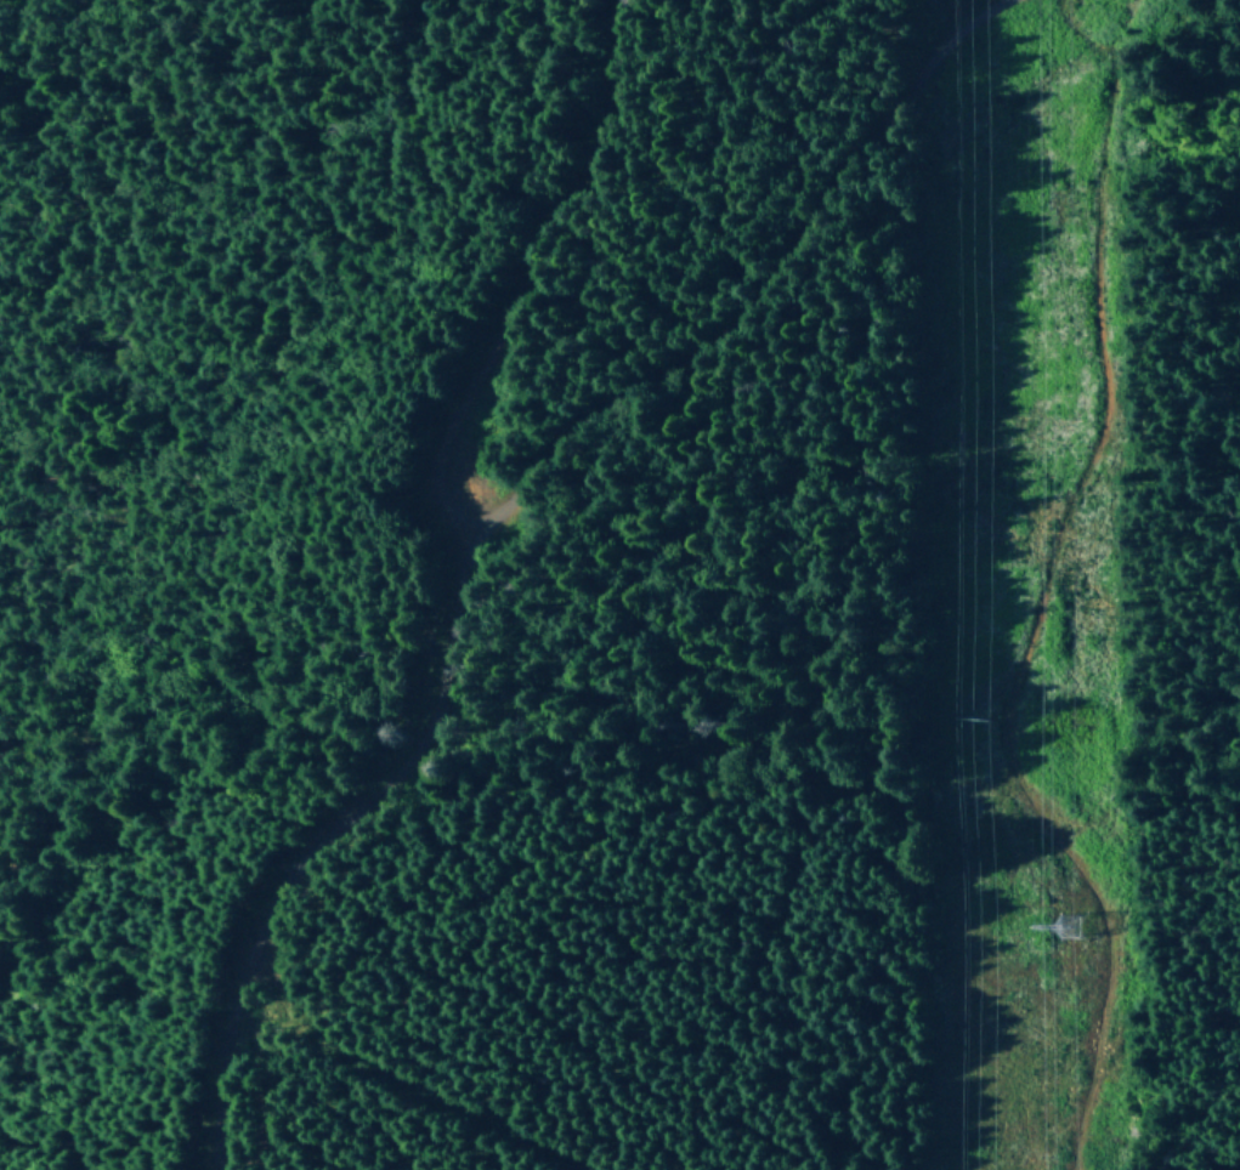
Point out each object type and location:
power tower: (983, 720)
power tower: (1063, 927)

